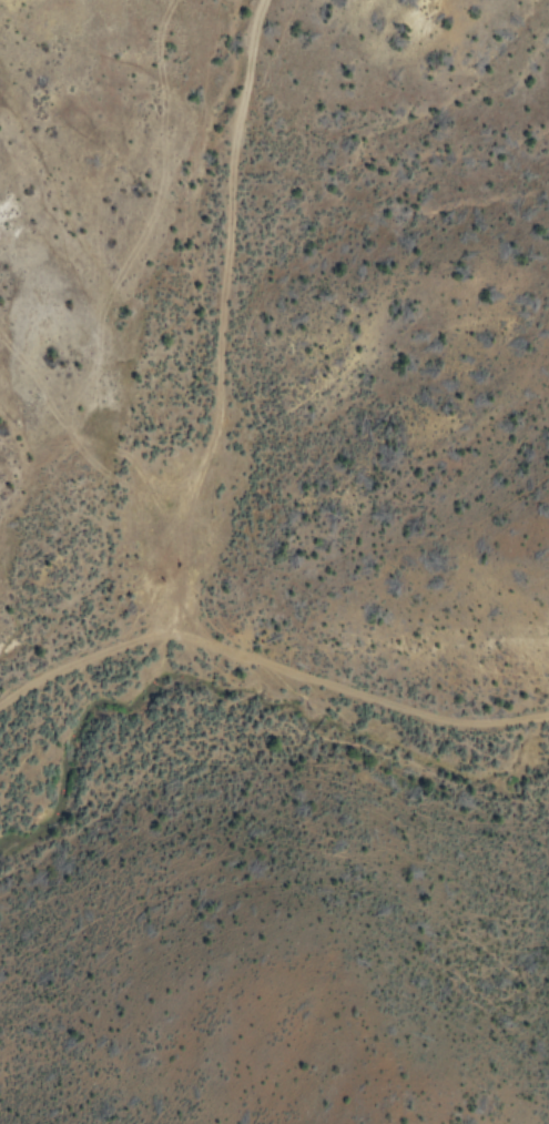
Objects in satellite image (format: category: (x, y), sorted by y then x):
road: (246, 316)
road: (265, 651)

